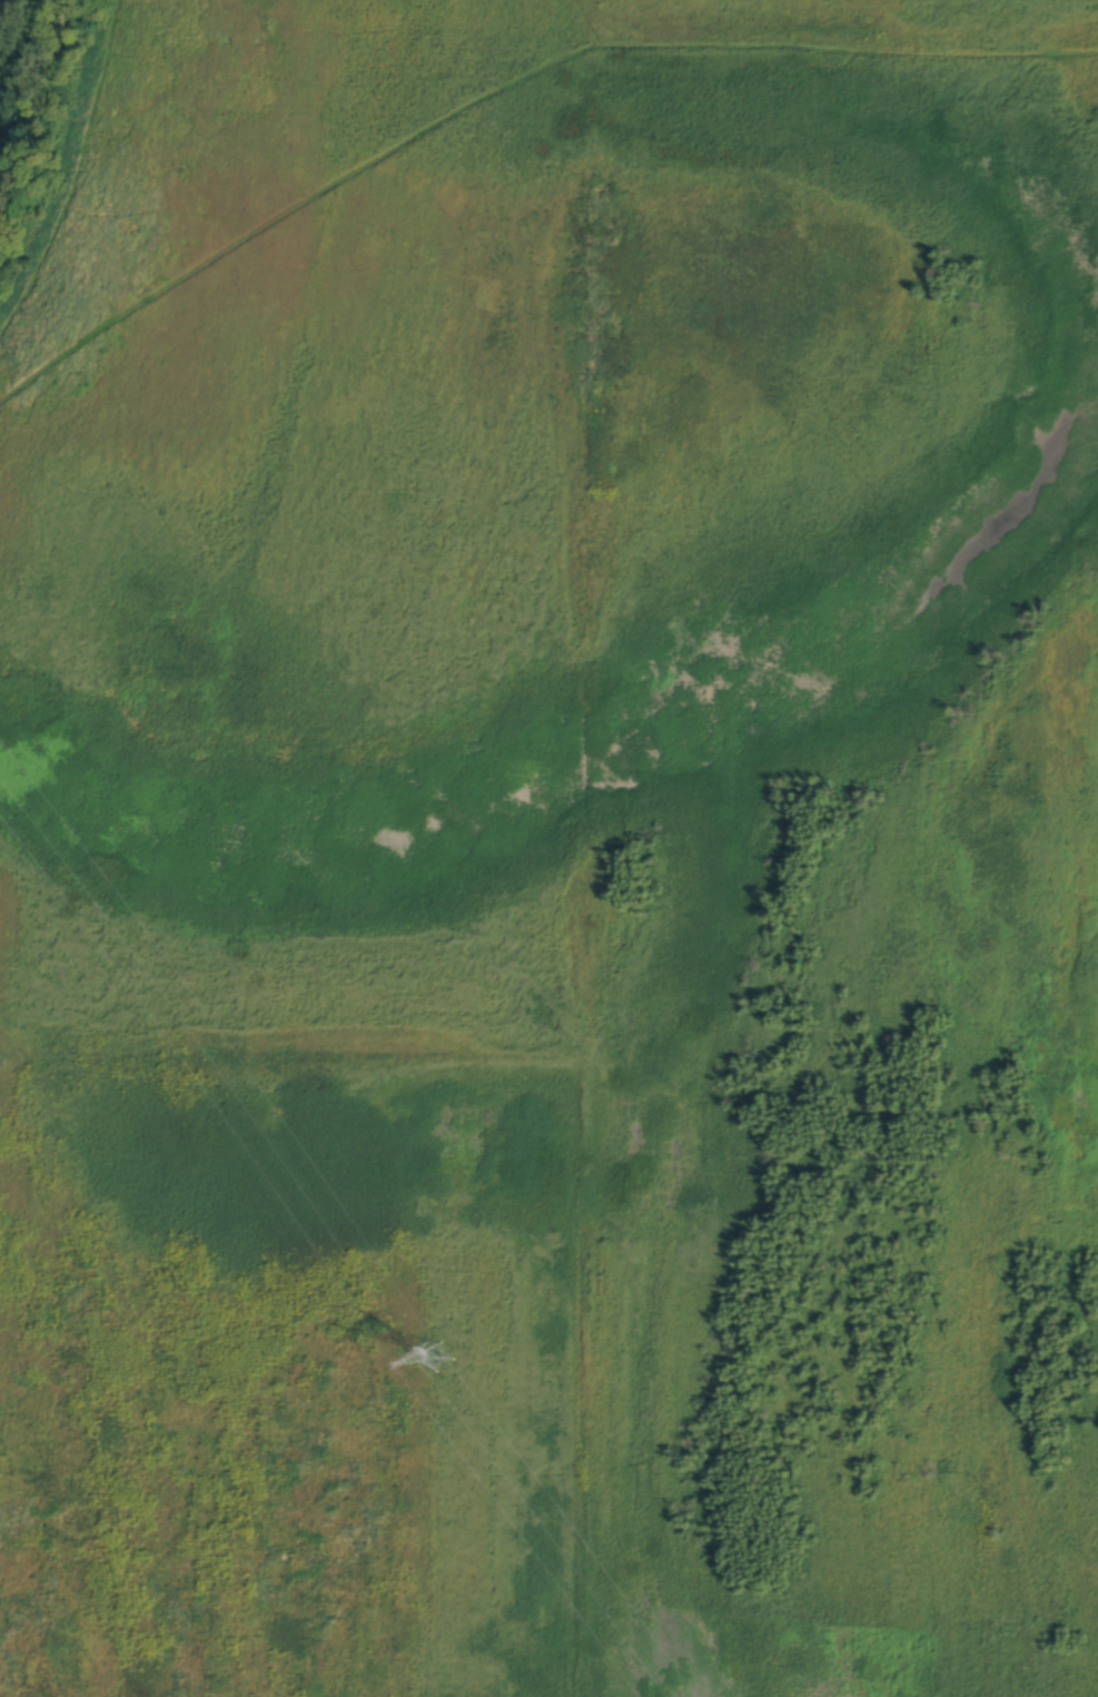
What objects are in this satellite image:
power tower: (434, 1353)

